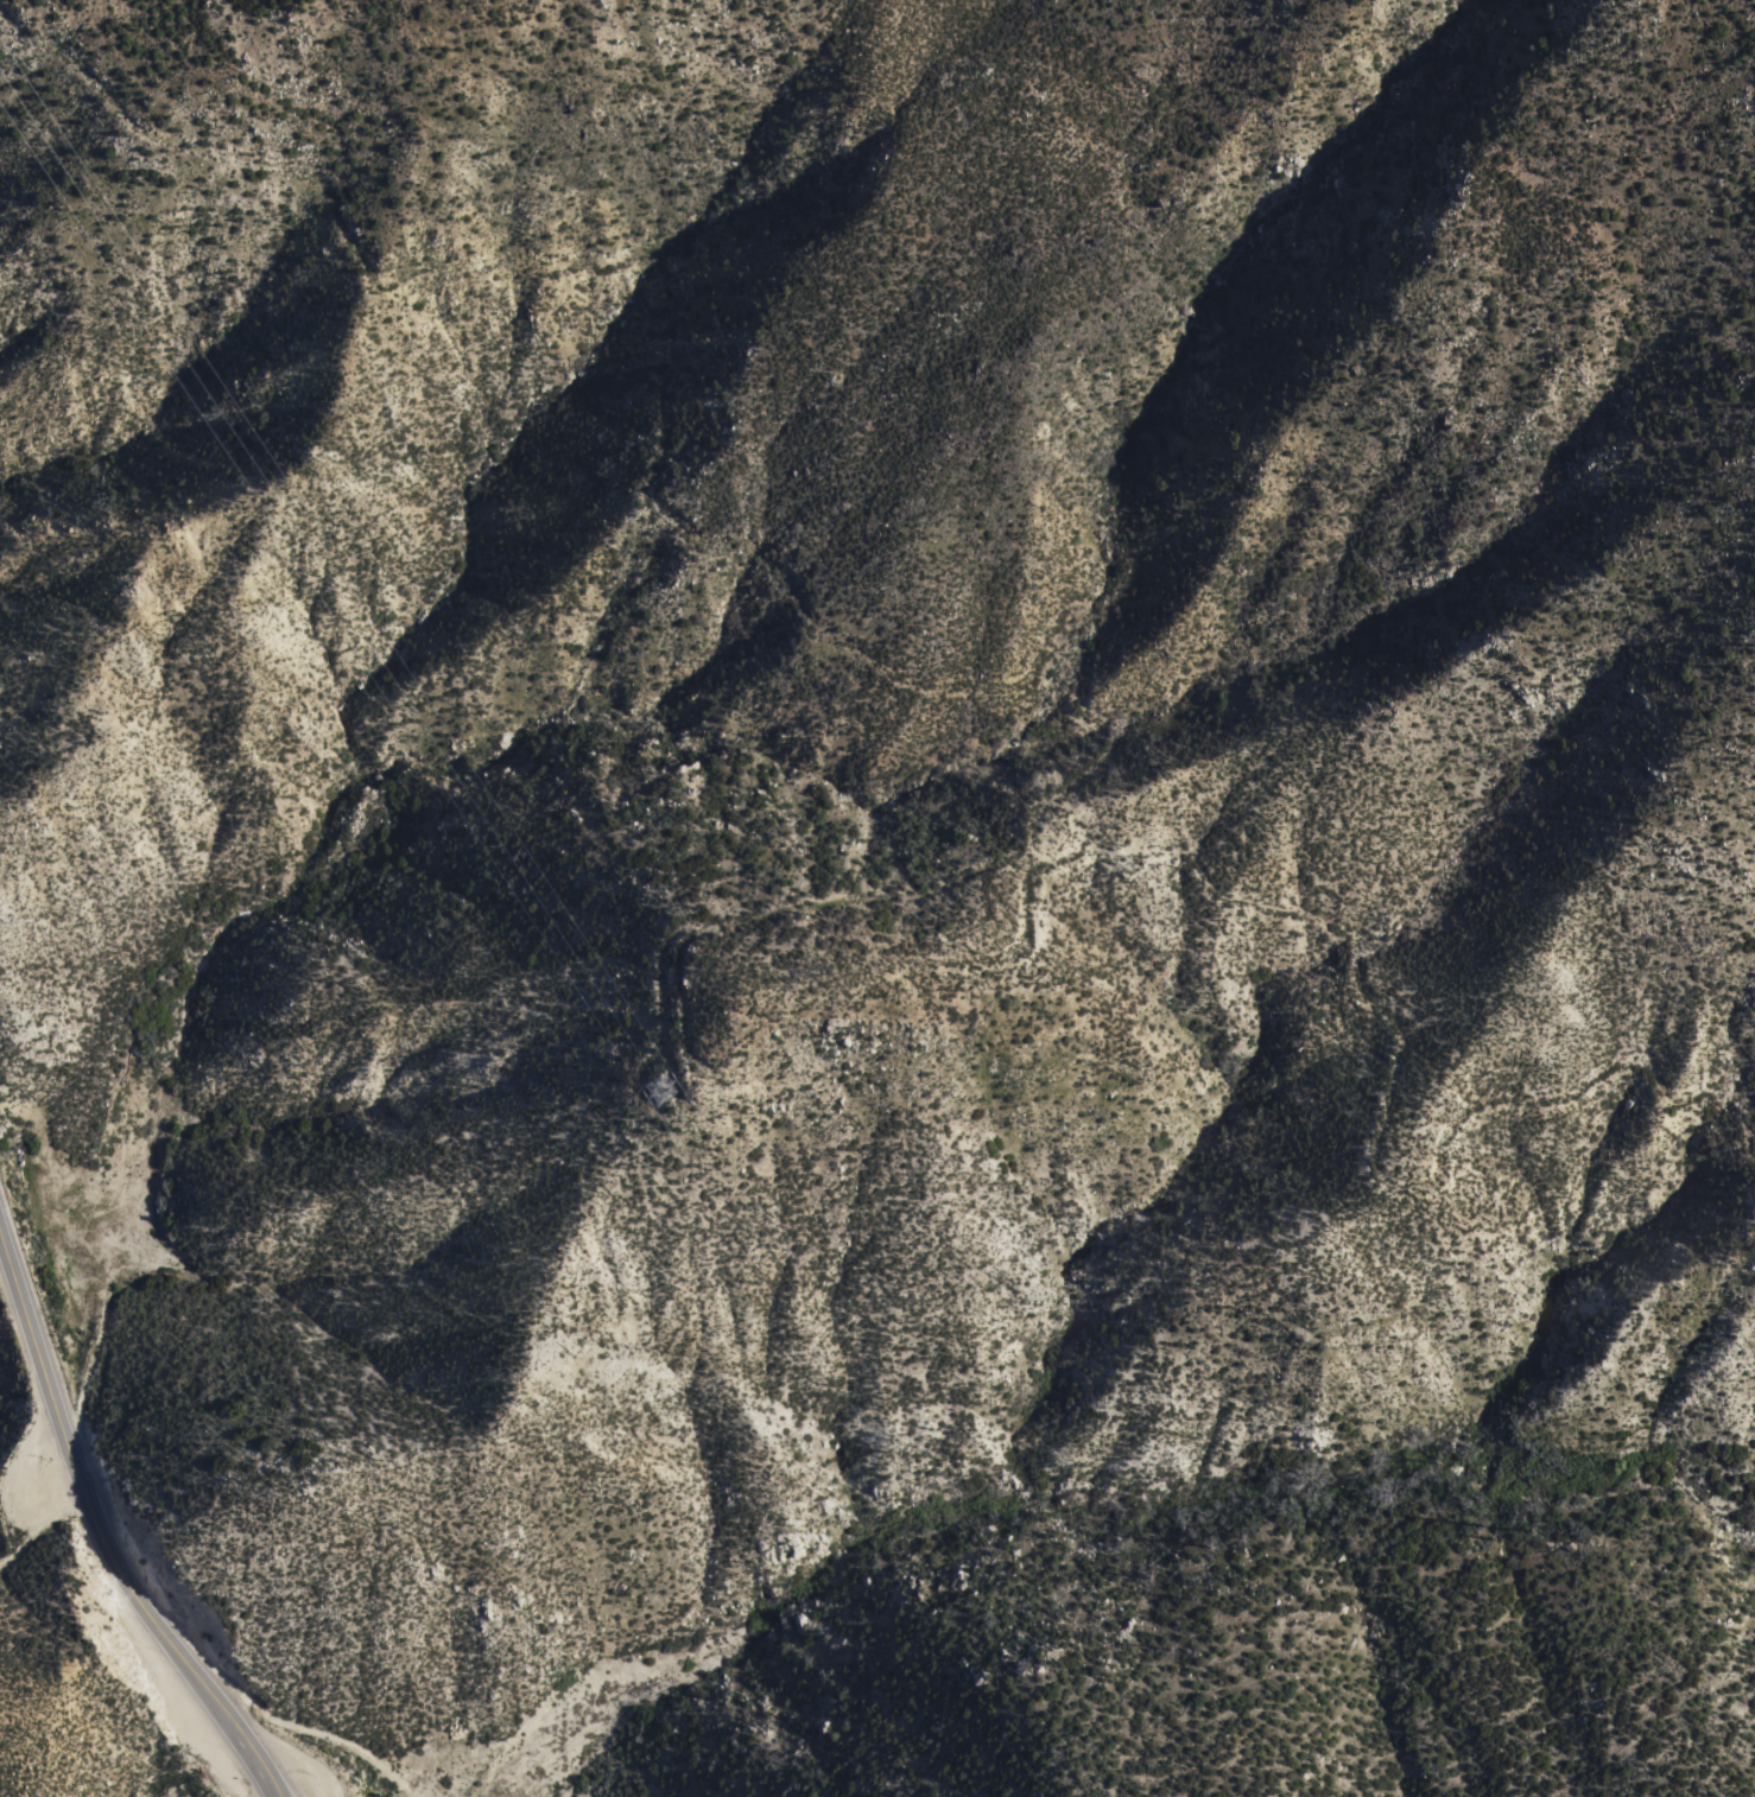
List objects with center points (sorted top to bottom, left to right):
power tower: (502, 748)
road: (100, 1536)
power tower: (1064, 1595)

